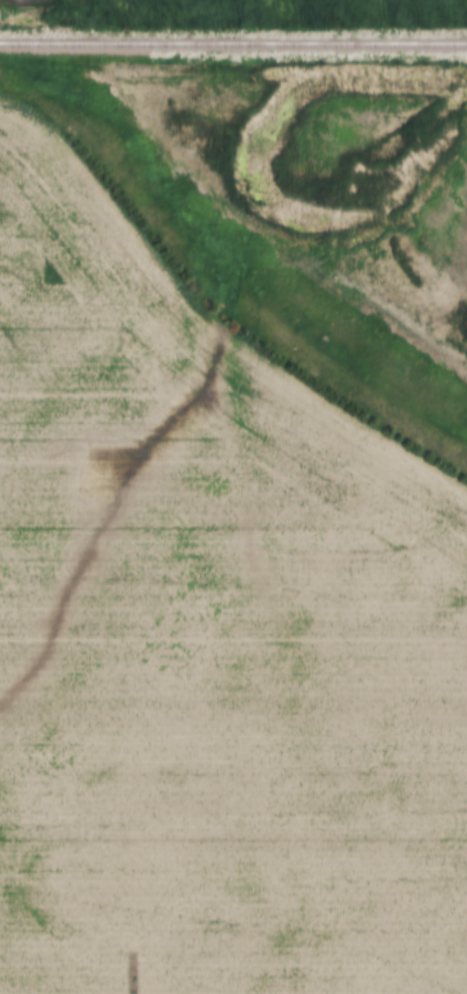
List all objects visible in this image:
railway: (233, 47)

